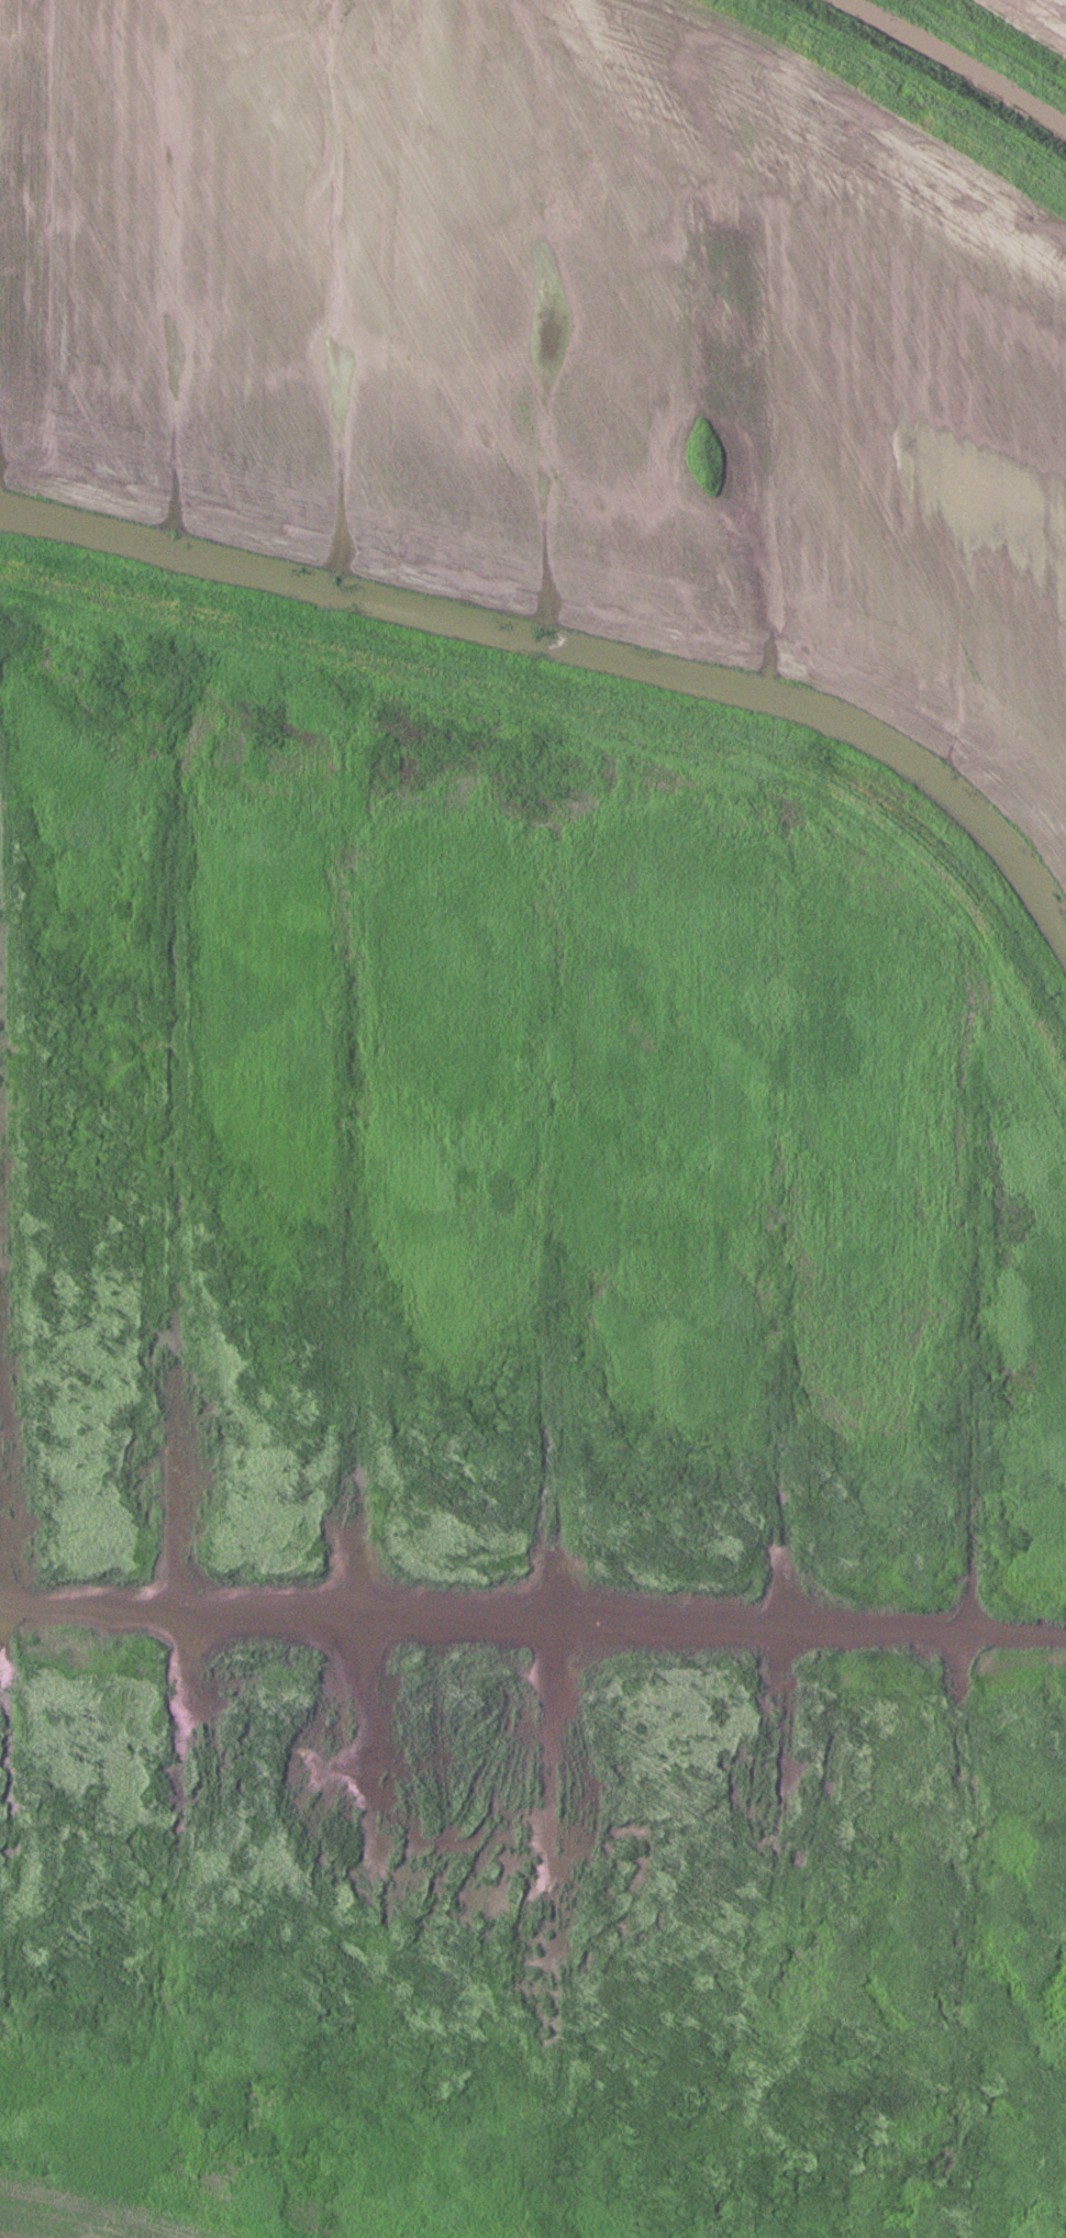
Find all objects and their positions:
road: (909, 85)

